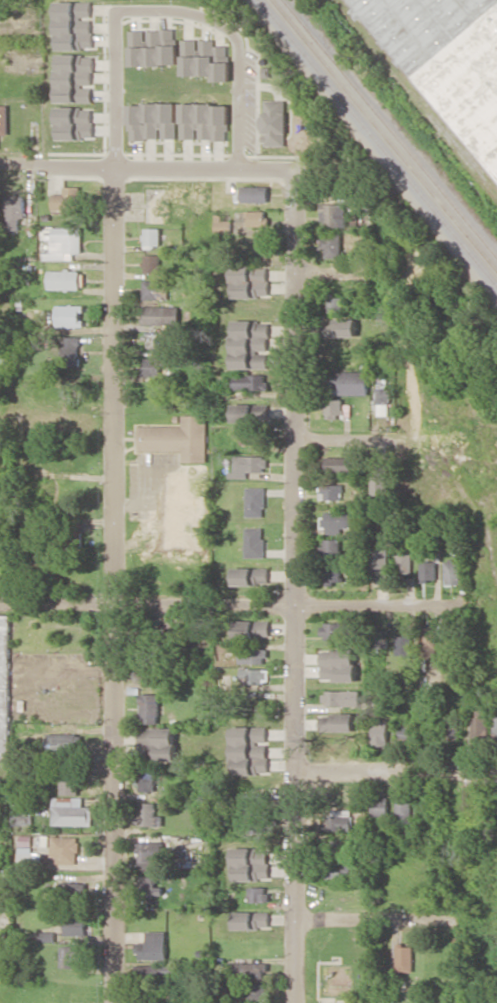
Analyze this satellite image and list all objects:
road: (168, 10)
building: (74, 25)
building: (153, 47)
building: (205, 58)
building: (448, 59)
building: (74, 77)
building: (4, 119)
building: (152, 120)
building: (204, 121)
building: (75, 122)
building: (274, 122)
railway: (390, 126)
railway: (384, 134)
railway: (378, 141)
road: (57, 165)
road: (203, 165)
building: (255, 193)
building: (67, 200)
building: (14, 210)
building: (334, 214)
building: (256, 217)
building: (223, 223)
building: (152, 237)
building: (64, 243)
building: (332, 244)
building: (153, 263)
road: (326, 273)
building: (66, 279)
building: (250, 281)
building: (156, 289)
building: (334, 304)
building: (69, 315)
building: (161, 315)
building: (338, 328)
building: (250, 344)
building: (70, 350)
building: (152, 366)
building: (250, 381)
building: (347, 382)
building: (382, 401)
building: (333, 408)
building: (250, 411)
building: (253, 435)
building: (178, 437)
road: (341, 438)
building: (338, 464)
building: (247, 465)
building: (381, 484)
building: (331, 491)
building: (255, 501)
building: (337, 521)
building: (254, 541)
building: (331, 546)
building: (404, 562)
building: (381, 566)
building: (428, 570)
building: (452, 572)
building: (333, 573)
building: (250, 576)
road: (114, 584)
road: (292, 584)
road: (223, 605)
building: (251, 628)
building: (339, 630)
building: (428, 641)
building: (403, 645)
building: (252, 655)
building: (338, 664)
building: (253, 675)
building: (5, 685)
building: (341, 697)
building: (149, 708)
building: (337, 722)
building: (469, 728)
building: (495, 729)
building: (379, 731)
building: (407, 740)
building: (65, 742)
building: (157, 743)
building: (249, 750)
road: (397, 769)
building: (64, 773)
building: (146, 780)
building: (251, 801)
building: (380, 805)
building: (403, 809)
building: (71, 811)
building: (148, 814)
building: (22, 819)
building: (337, 819)
building: (255, 827)
building: (335, 847)
building: (65, 849)
building: (27, 852)
building: (150, 854)
building: (250, 863)
building: (338, 871)
building: (257, 893)
building: (3, 899)
building: (251, 919)
road: (378, 920)
building: (76, 925)
building: (47, 936)
building: (153, 946)
building: (71, 956)
building: (404, 957)
building: (250, 969)
building: (158, 970)
building: (250, 990)

